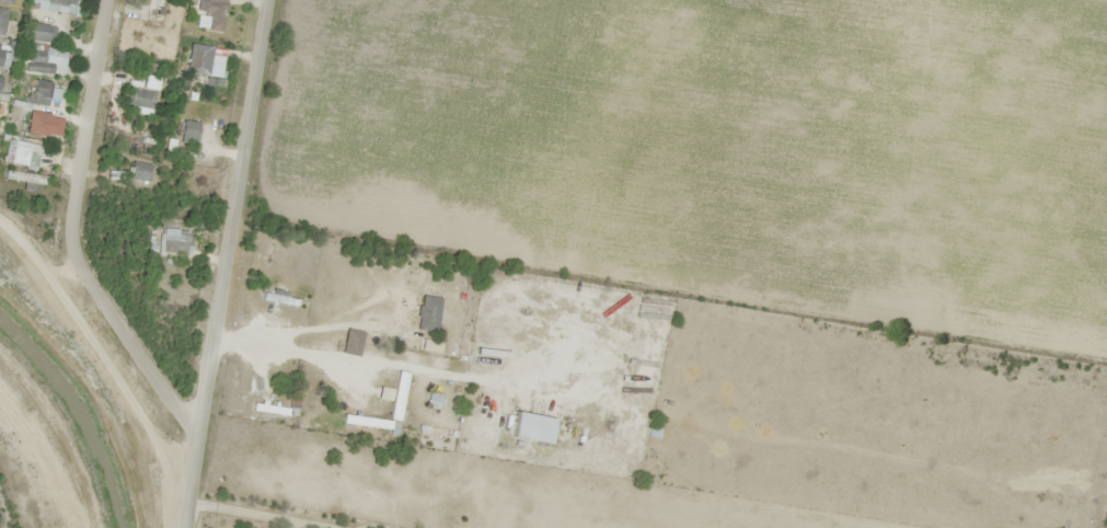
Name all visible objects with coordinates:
building: (5, 1)
building: (50, 4)
building: (208, 15)
building: (138, 16)
building: (1, 20)
building: (34, 33)
building: (0, 50)
building: (196, 60)
building: (35, 61)
building: (148, 82)
building: (37, 93)
building: (138, 99)
building: (35, 124)
building: (187, 133)
building: (23, 154)
building: (138, 172)
road: (72, 234)
building: (174, 241)
road: (224, 263)
building: (276, 298)
building: (426, 314)
building: (433, 401)

